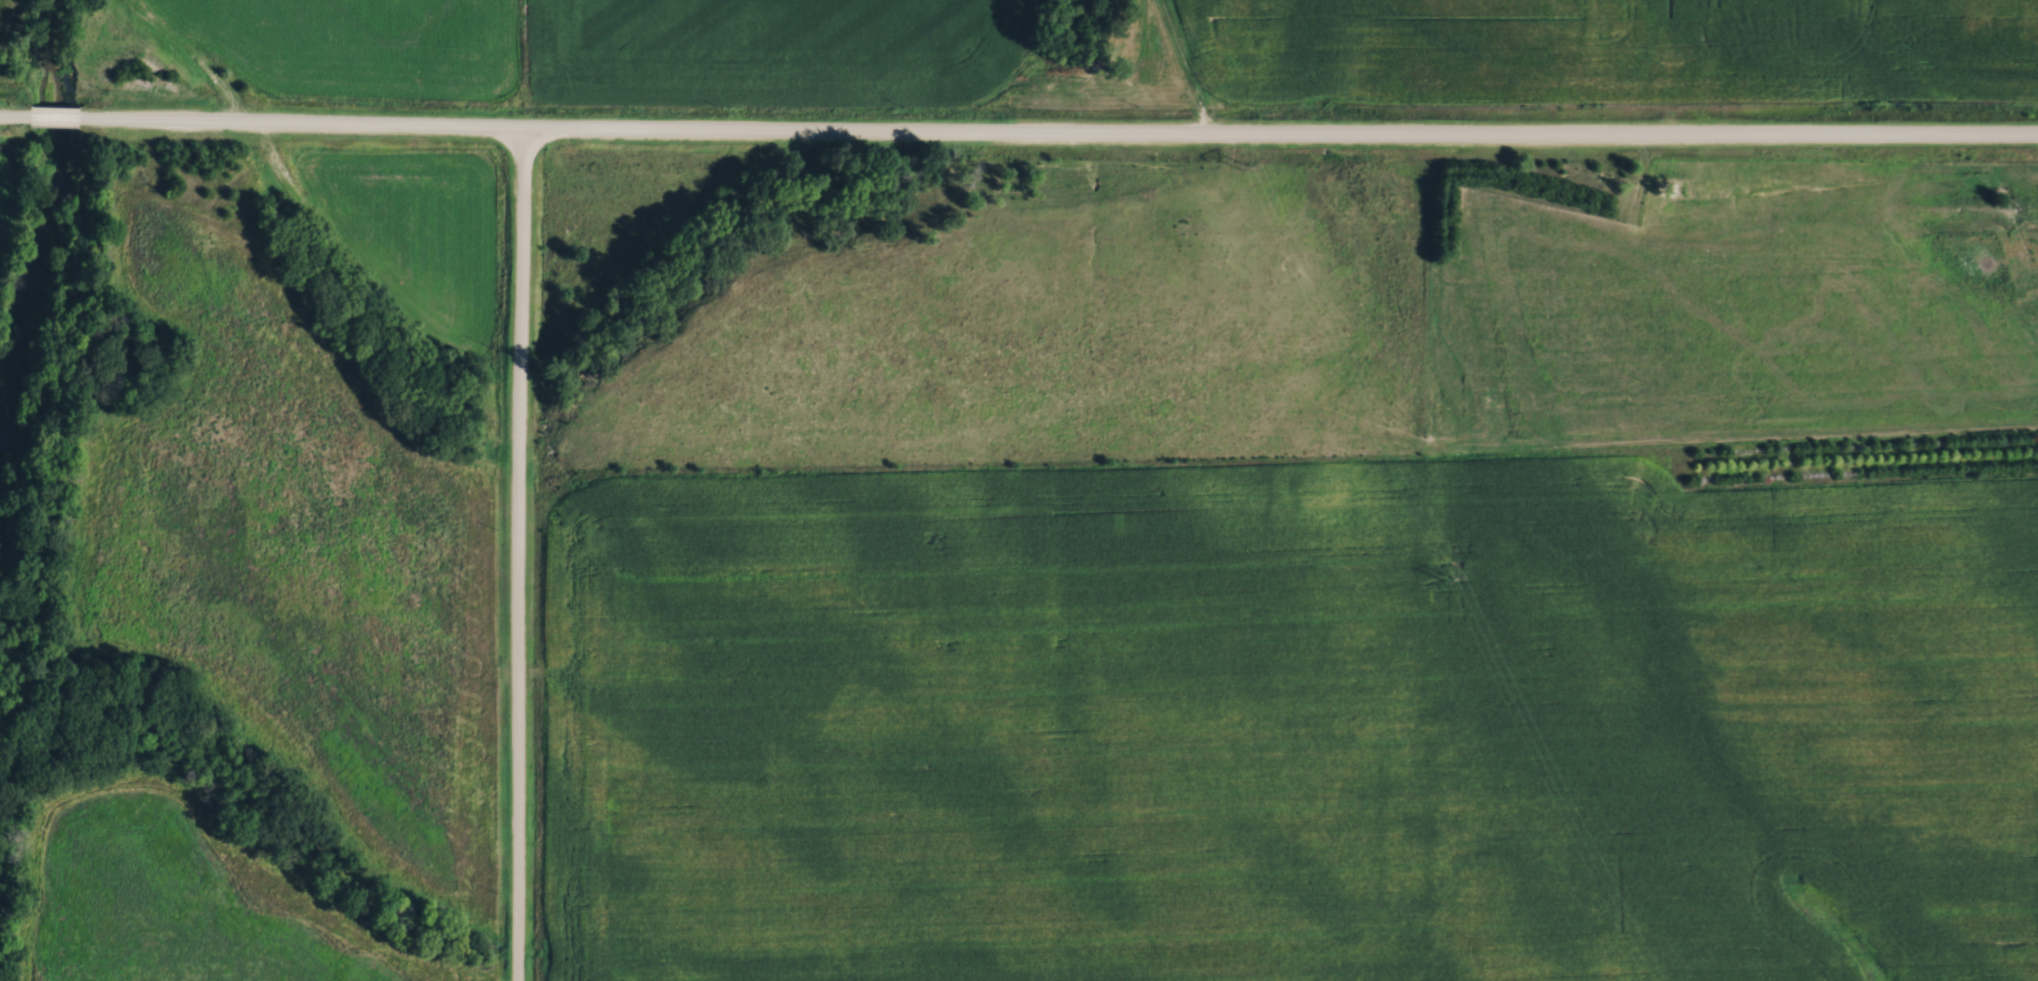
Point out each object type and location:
road: (1018, 136)
power tower: (1245, 166)
road: (520, 555)
power tower: (1450, 577)

